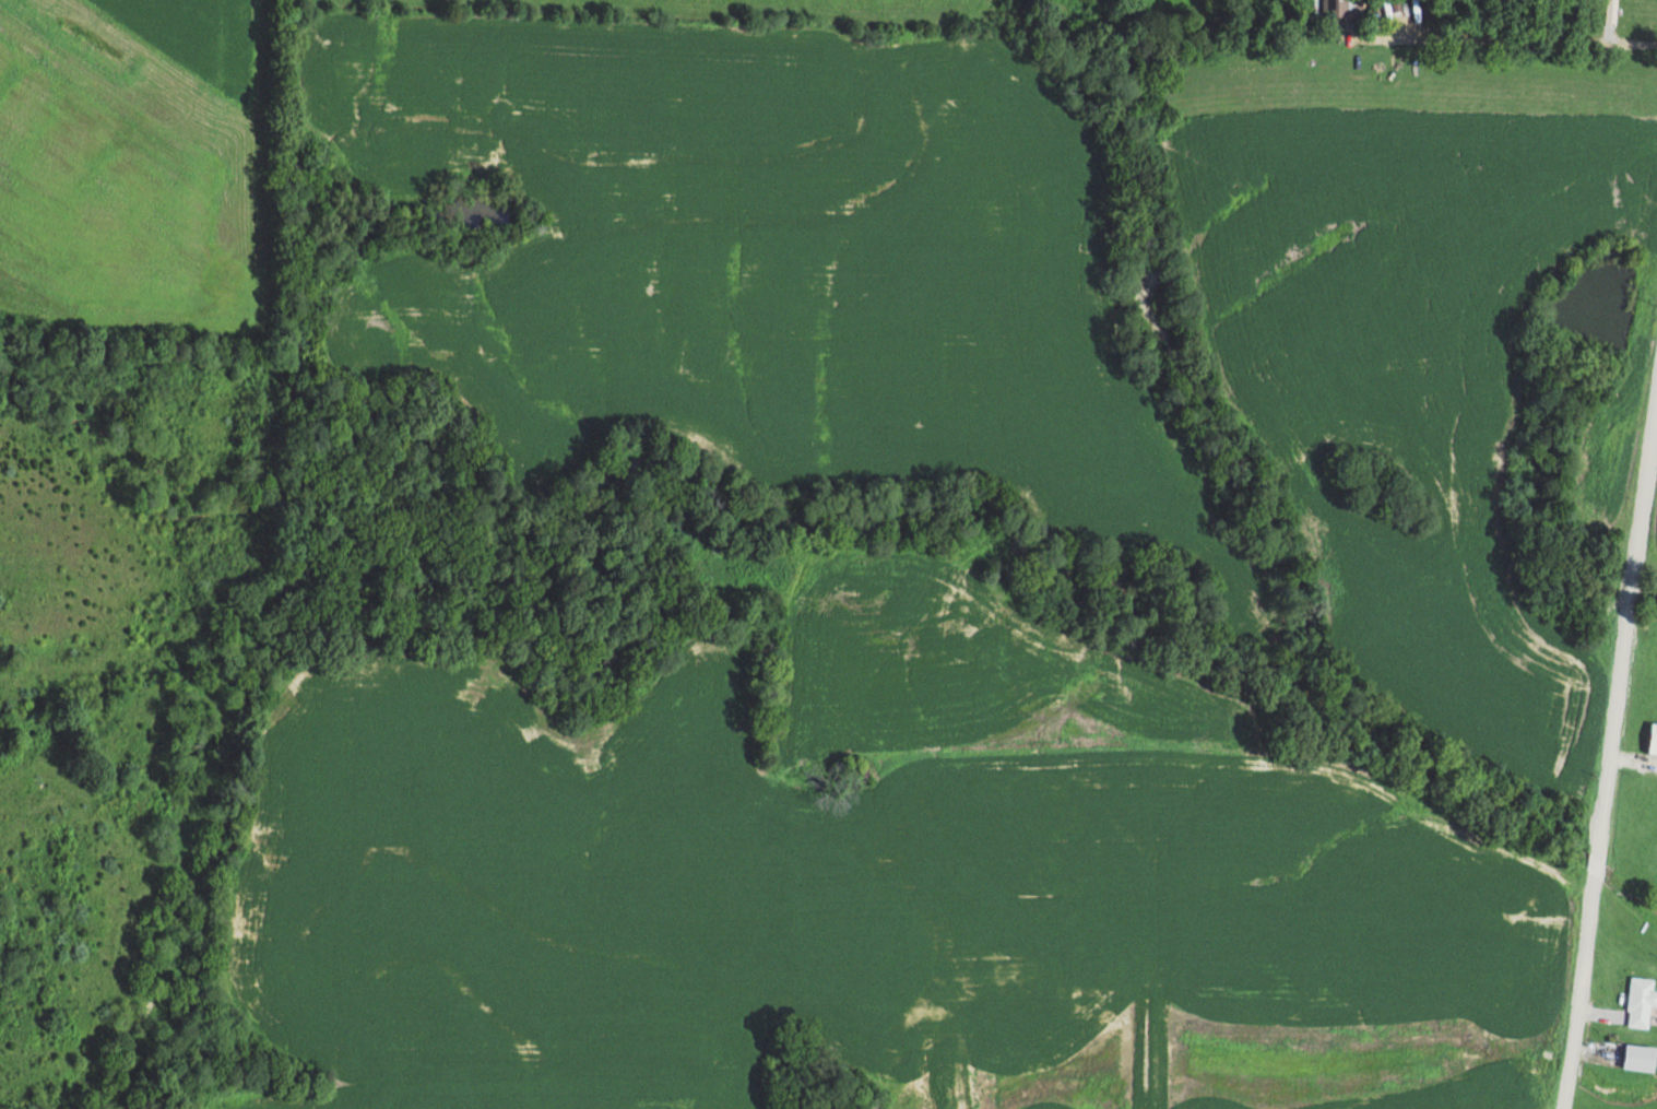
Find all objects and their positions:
building: (1334, 9)
road: (1602, 729)
building: (1641, 1002)
building: (1641, 1058)

